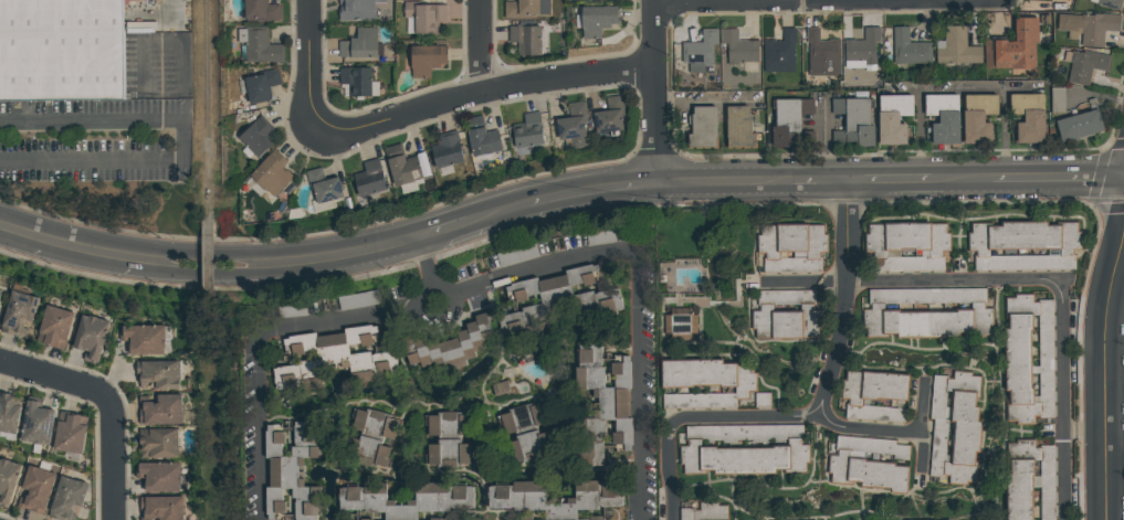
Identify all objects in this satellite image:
building: (593, 0)
road: (681, 0)
building: (145, 2)
building: (1110, 3)
building: (526, 9)
building: (356, 10)
road: (172, 11)
building: (261, 11)
building: (424, 17)
building: (596, 20)
building: (1086, 28)
building: (525, 39)
building: (359, 44)
road: (477, 44)
building: (258, 45)
road: (306, 45)
building: (862, 47)
building: (1013, 47)
building: (738, 49)
building: (779, 49)
building: (908, 49)
building: (956, 49)
building: (61, 51)
building: (700, 52)
building: (822, 55)
building: (426, 60)
building: (1084, 66)
railway: (207, 68)
building: (356, 81)
building: (260, 85)
road: (968, 86)
road: (653, 91)
road: (462, 94)
road: (707, 99)
building: (1057, 99)
building: (609, 116)
building: (943, 117)
building: (1028, 117)
building: (977, 118)
building: (892, 119)
road: (93, 121)
building: (788, 121)
building: (852, 123)
building: (572, 126)
building: (1079, 126)
building: (702, 127)
building: (738, 127)
building: (527, 131)
road: (1005, 131)
road: (921, 132)
building: (255, 137)
road: (827, 138)
building: (481, 139)
building: (445, 151)
road: (151, 161)
building: (401, 166)
building: (271, 173)
road: (1058, 177)
road: (960, 178)
railway: (208, 179)
building: (369, 179)
road: (889, 179)
road: (807, 180)
road: (838, 180)
road: (721, 181)
building: (322, 187)
road: (588, 190)
road: (496, 214)
road: (445, 229)
building: (600, 238)
building: (1023, 246)
building: (908, 247)
building: (790, 248)
road: (208, 255)
building: (516, 255)
railway: (209, 267)
road: (429, 270)
road: (209, 274)
road: (918, 285)
road: (483, 291)
building: (1, 293)
road: (1116, 295)
building: (356, 300)
road: (841, 301)
building: (598, 303)
building: (292, 311)
building: (925, 312)
building: (17, 314)
building: (784, 316)
building: (681, 325)
building: (53, 327)
building: (90, 338)
building: (143, 340)
building: (451, 346)
building: (329, 354)
building: (596, 354)
building: (1029, 359)
road: (1106, 369)
road: (53, 374)
building: (157, 374)
building: (704, 385)
building: (502, 389)
building: (874, 397)
building: (761, 400)
road: (1062, 402)
building: (159, 410)
building: (609, 411)
building: (9, 413)
road: (828, 422)
building: (35, 425)
building: (954, 427)
building: (69, 433)
building: (526, 434)
building: (370, 438)
building: (449, 439)
building: (158, 444)
building: (743, 449)
road: (111, 457)
building: (869, 464)
road: (1115, 467)
building: (292, 473)
road: (672, 473)
building: (158, 478)
building: (7, 481)
building: (1029, 482)
building: (35, 490)
building: (66, 498)
building: (554, 498)
building: (406, 500)
building: (160, 508)
building: (703, 513)
building: (598, 518)
building: (440, 519)
building: (522, 519)

